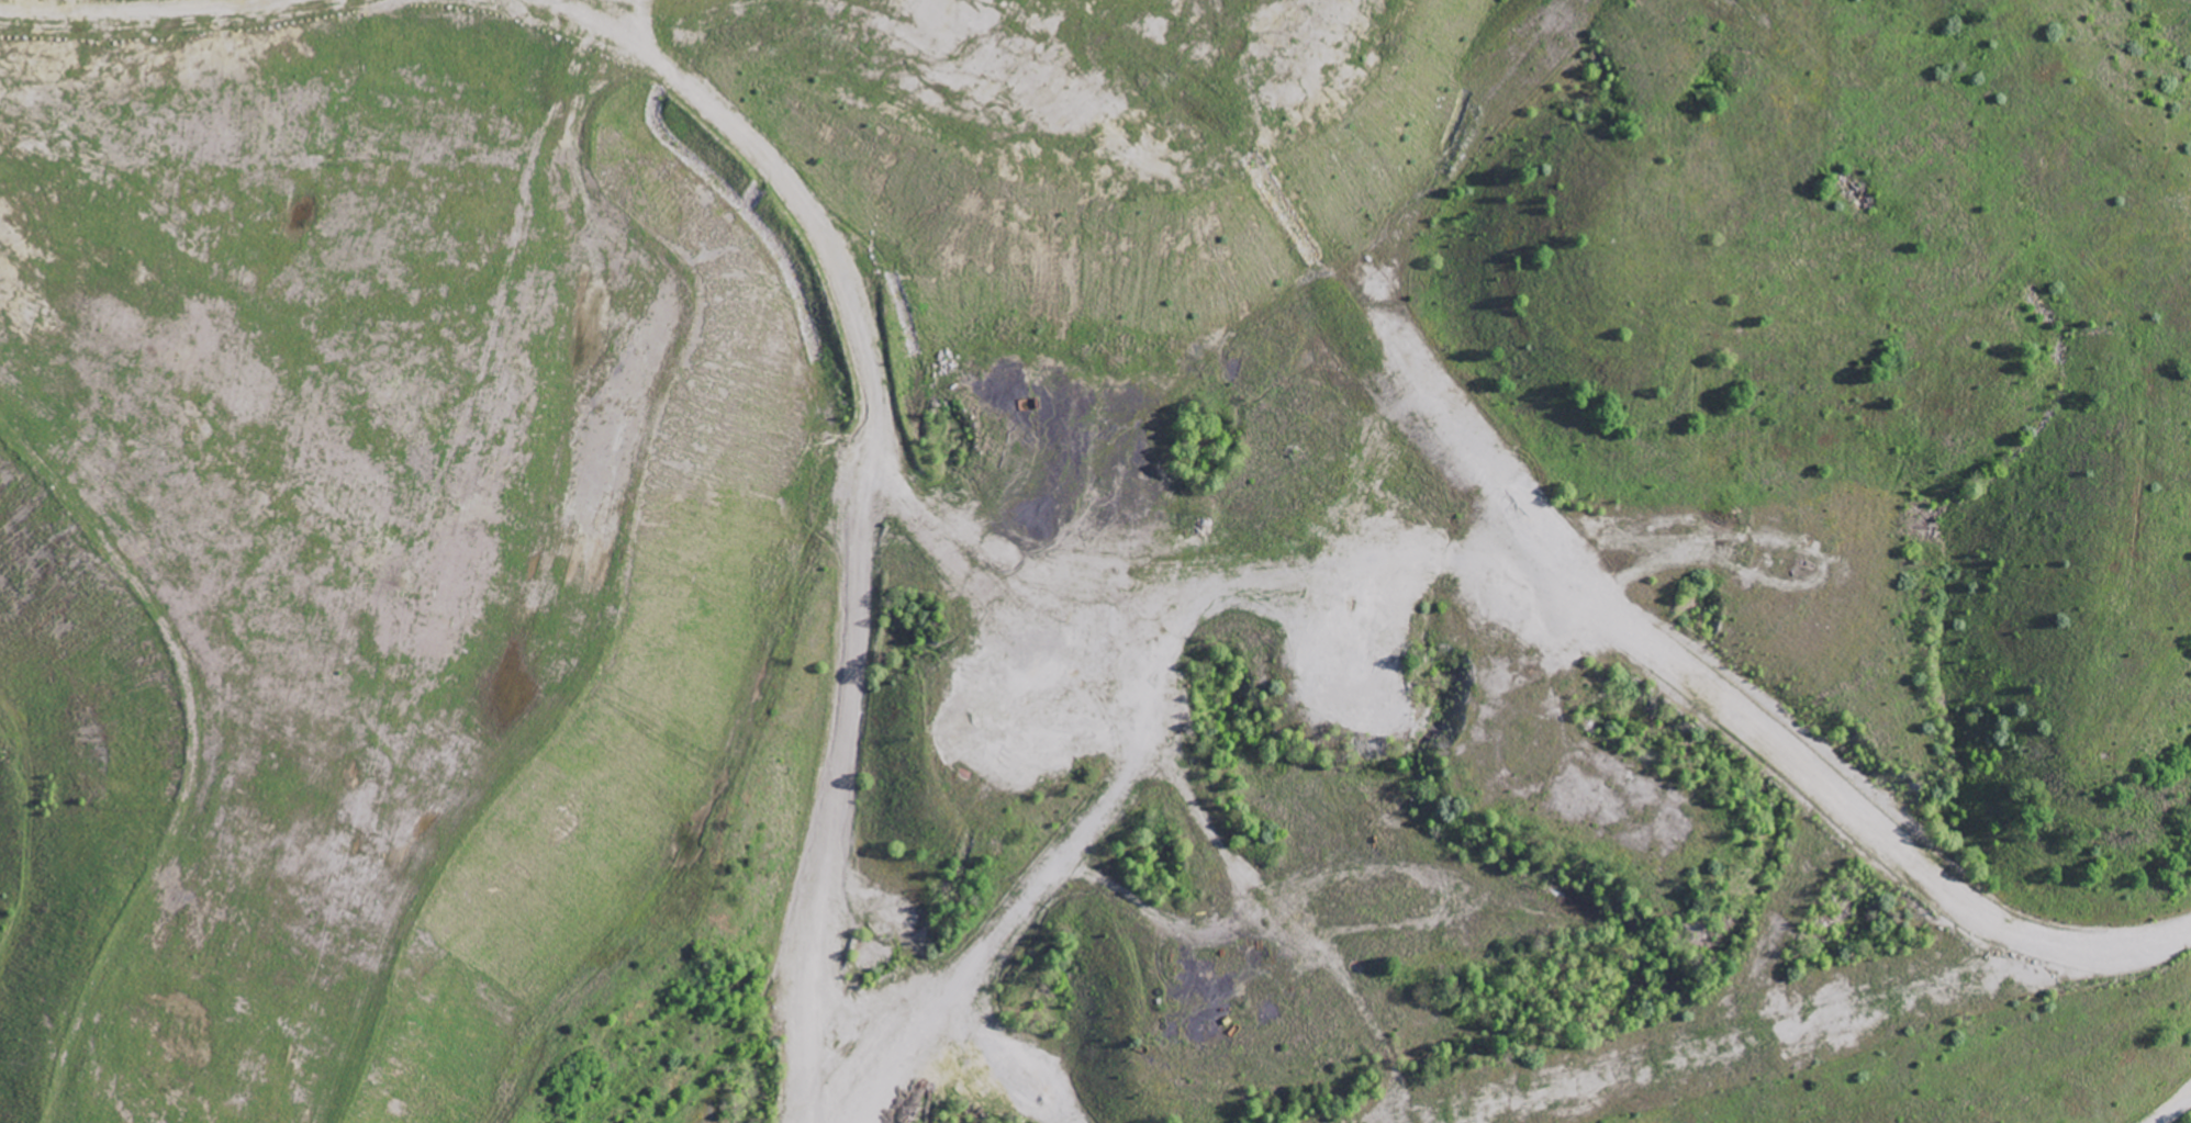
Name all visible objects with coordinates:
quarry: (1097, 554)
road: (943, 749)
road: (2176, 1109)

